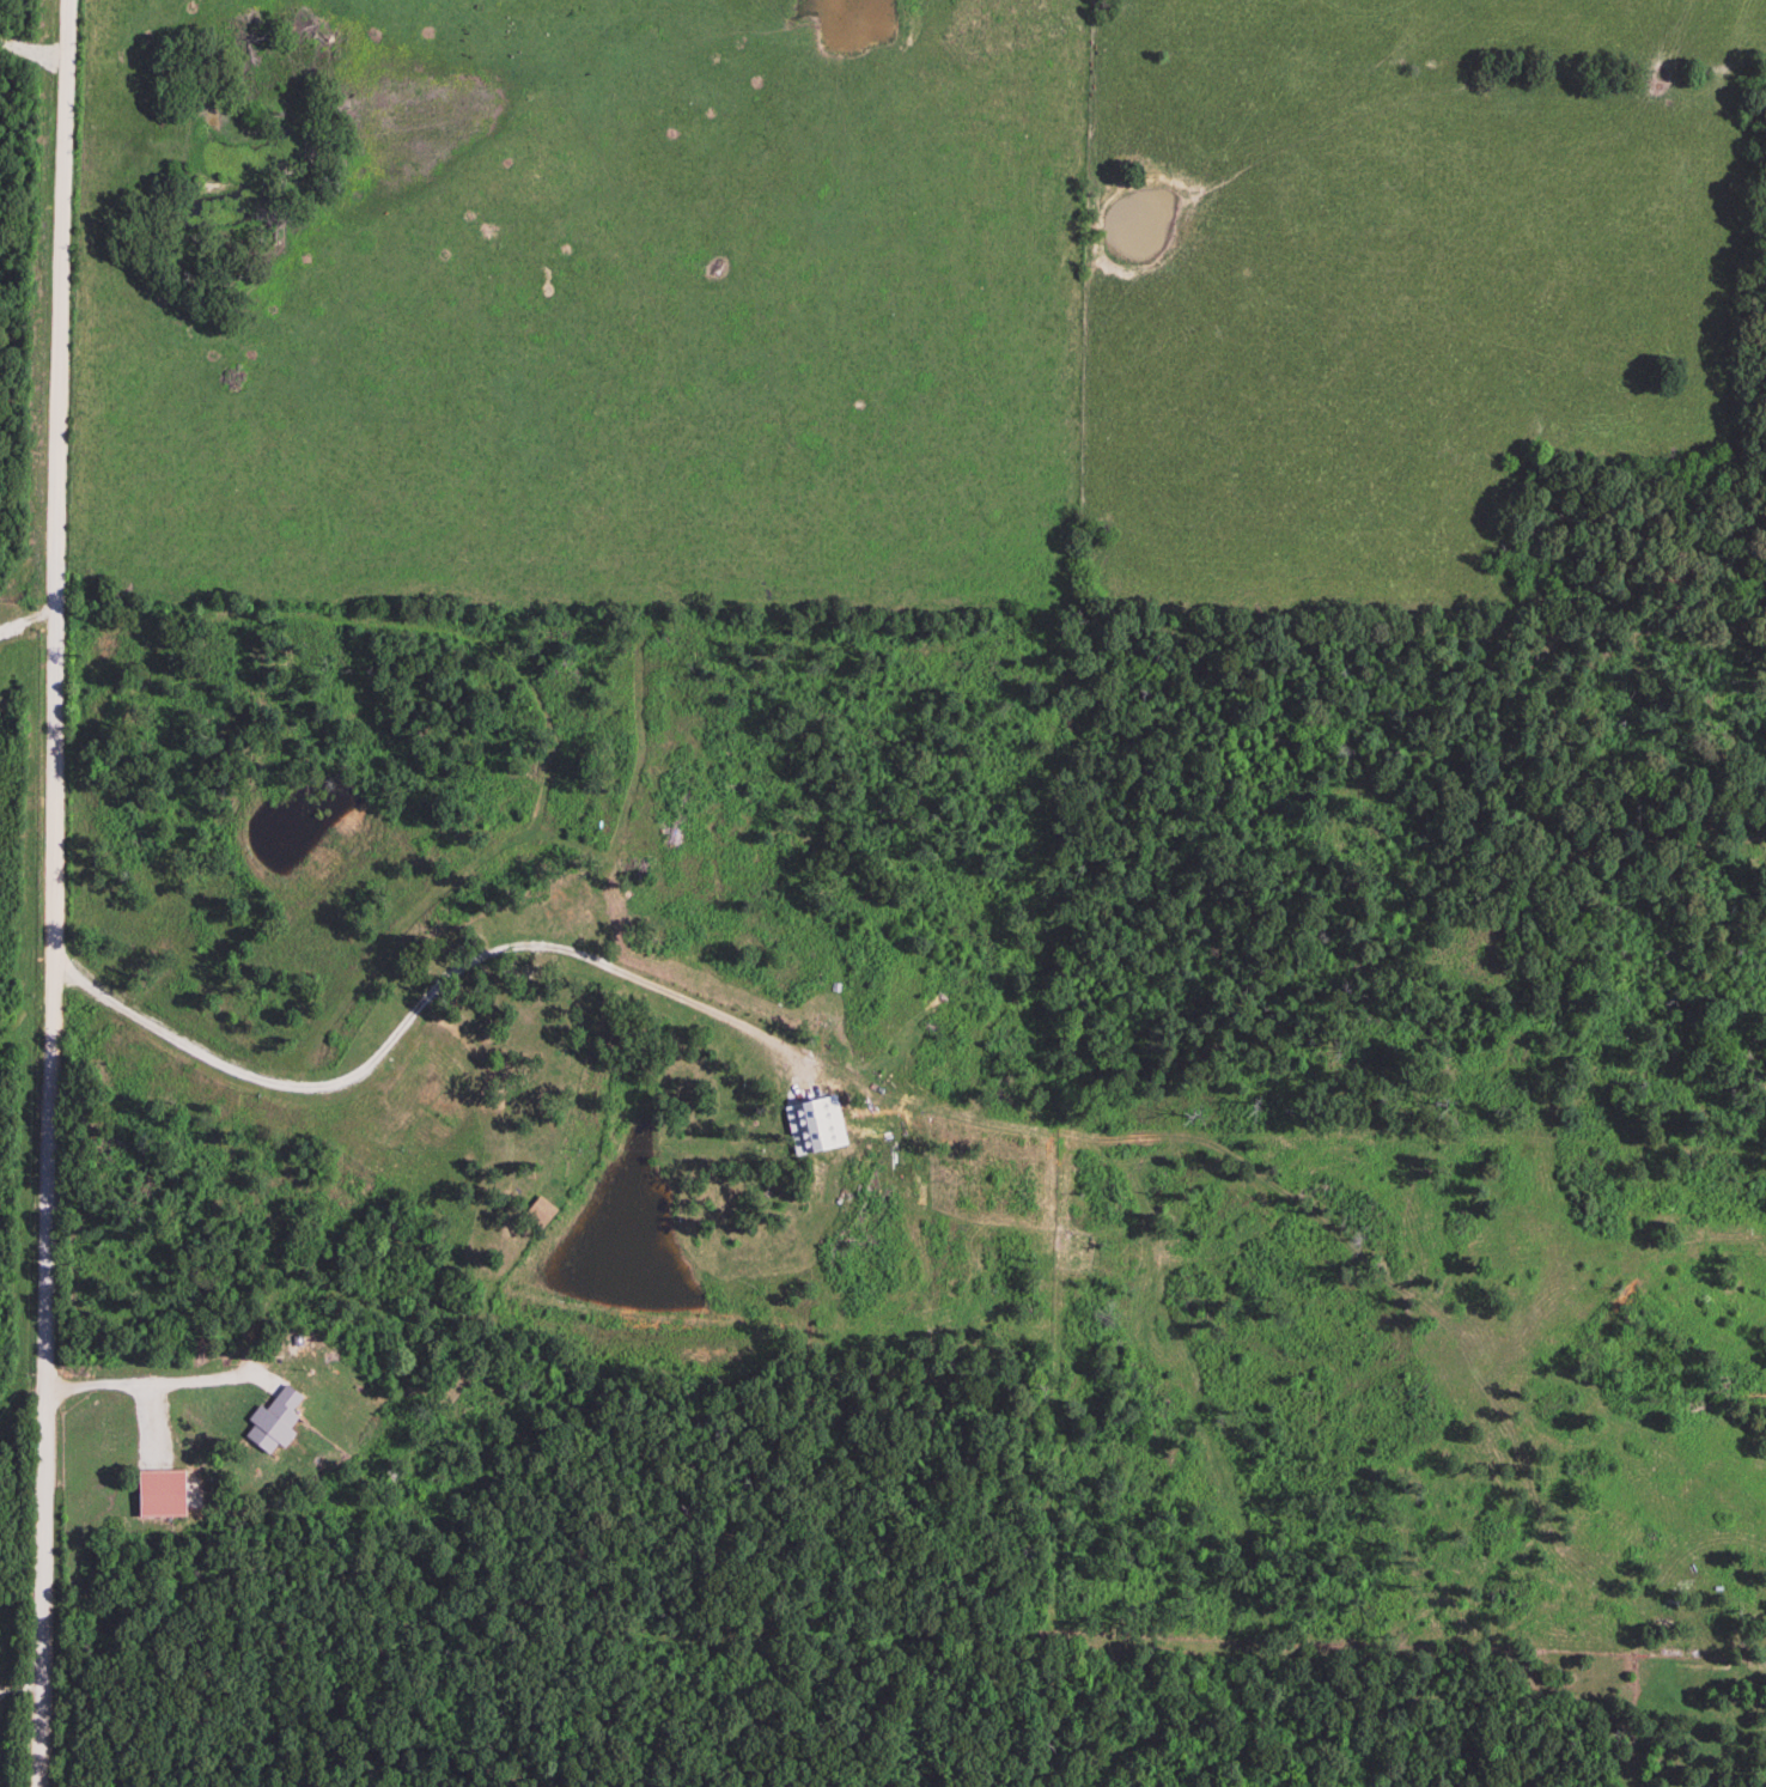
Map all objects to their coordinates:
road: (28, 622)
road: (51, 893)
road: (412, 1015)
road: (177, 1364)
building: (158, 1494)
road: (19, 1690)

